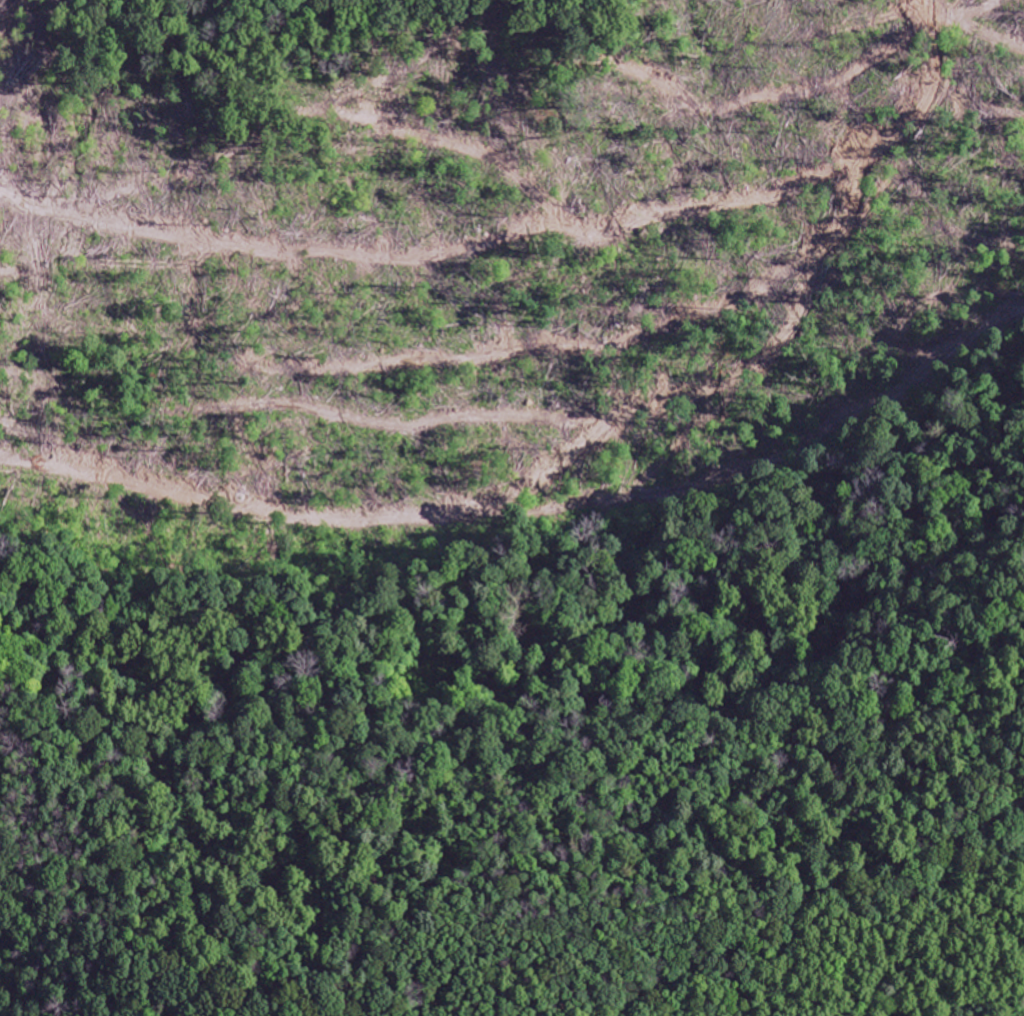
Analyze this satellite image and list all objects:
road: (813, 894)

